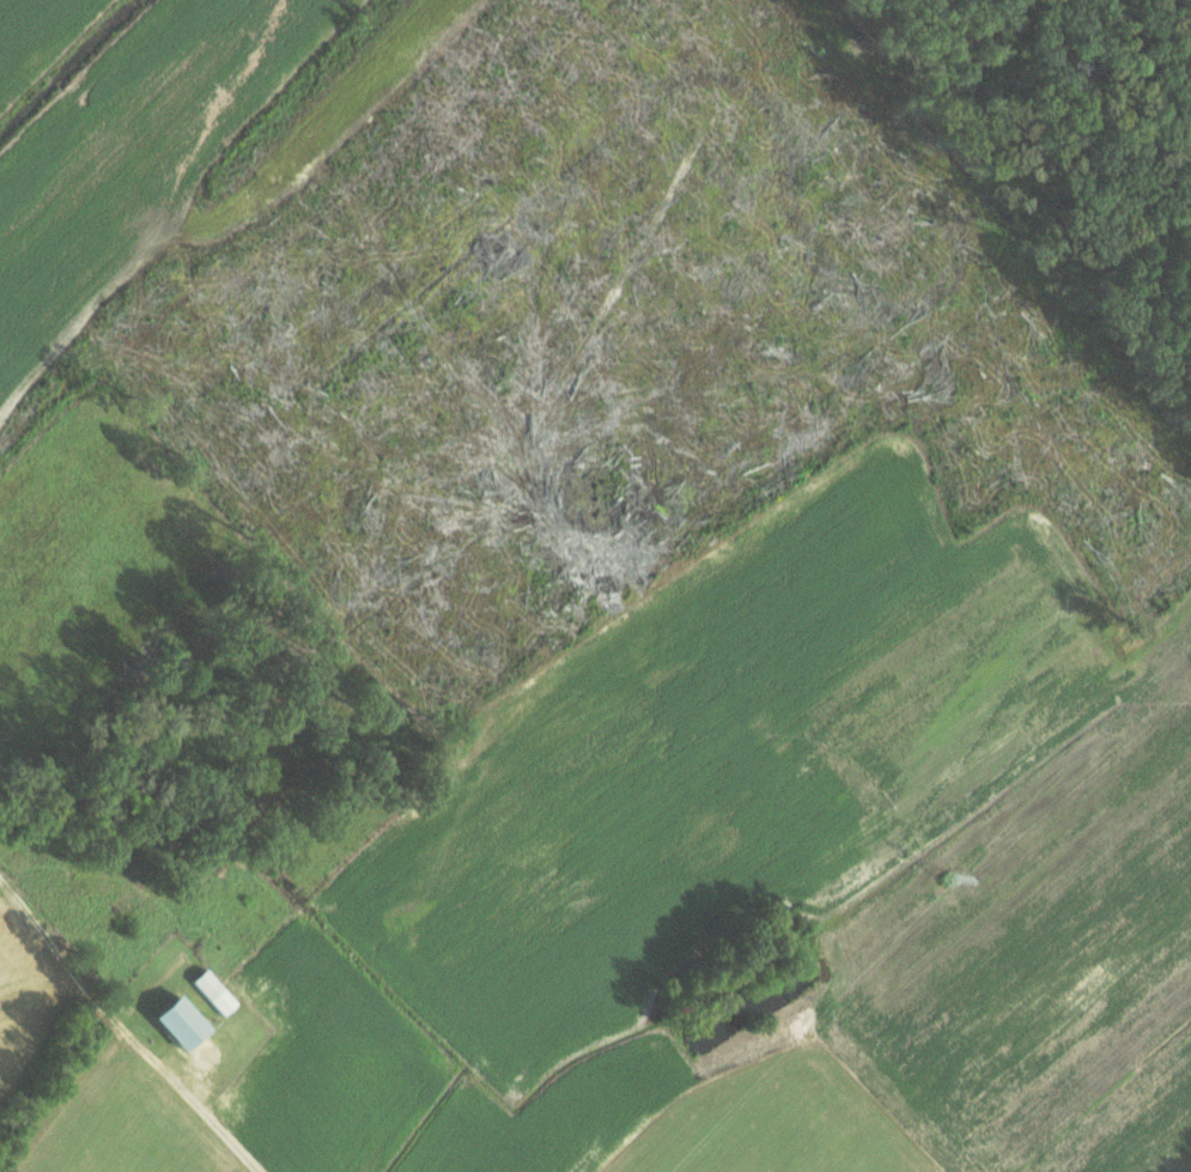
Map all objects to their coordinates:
power tower: (954, 876)
building: (218, 992)
building: (189, 1024)

